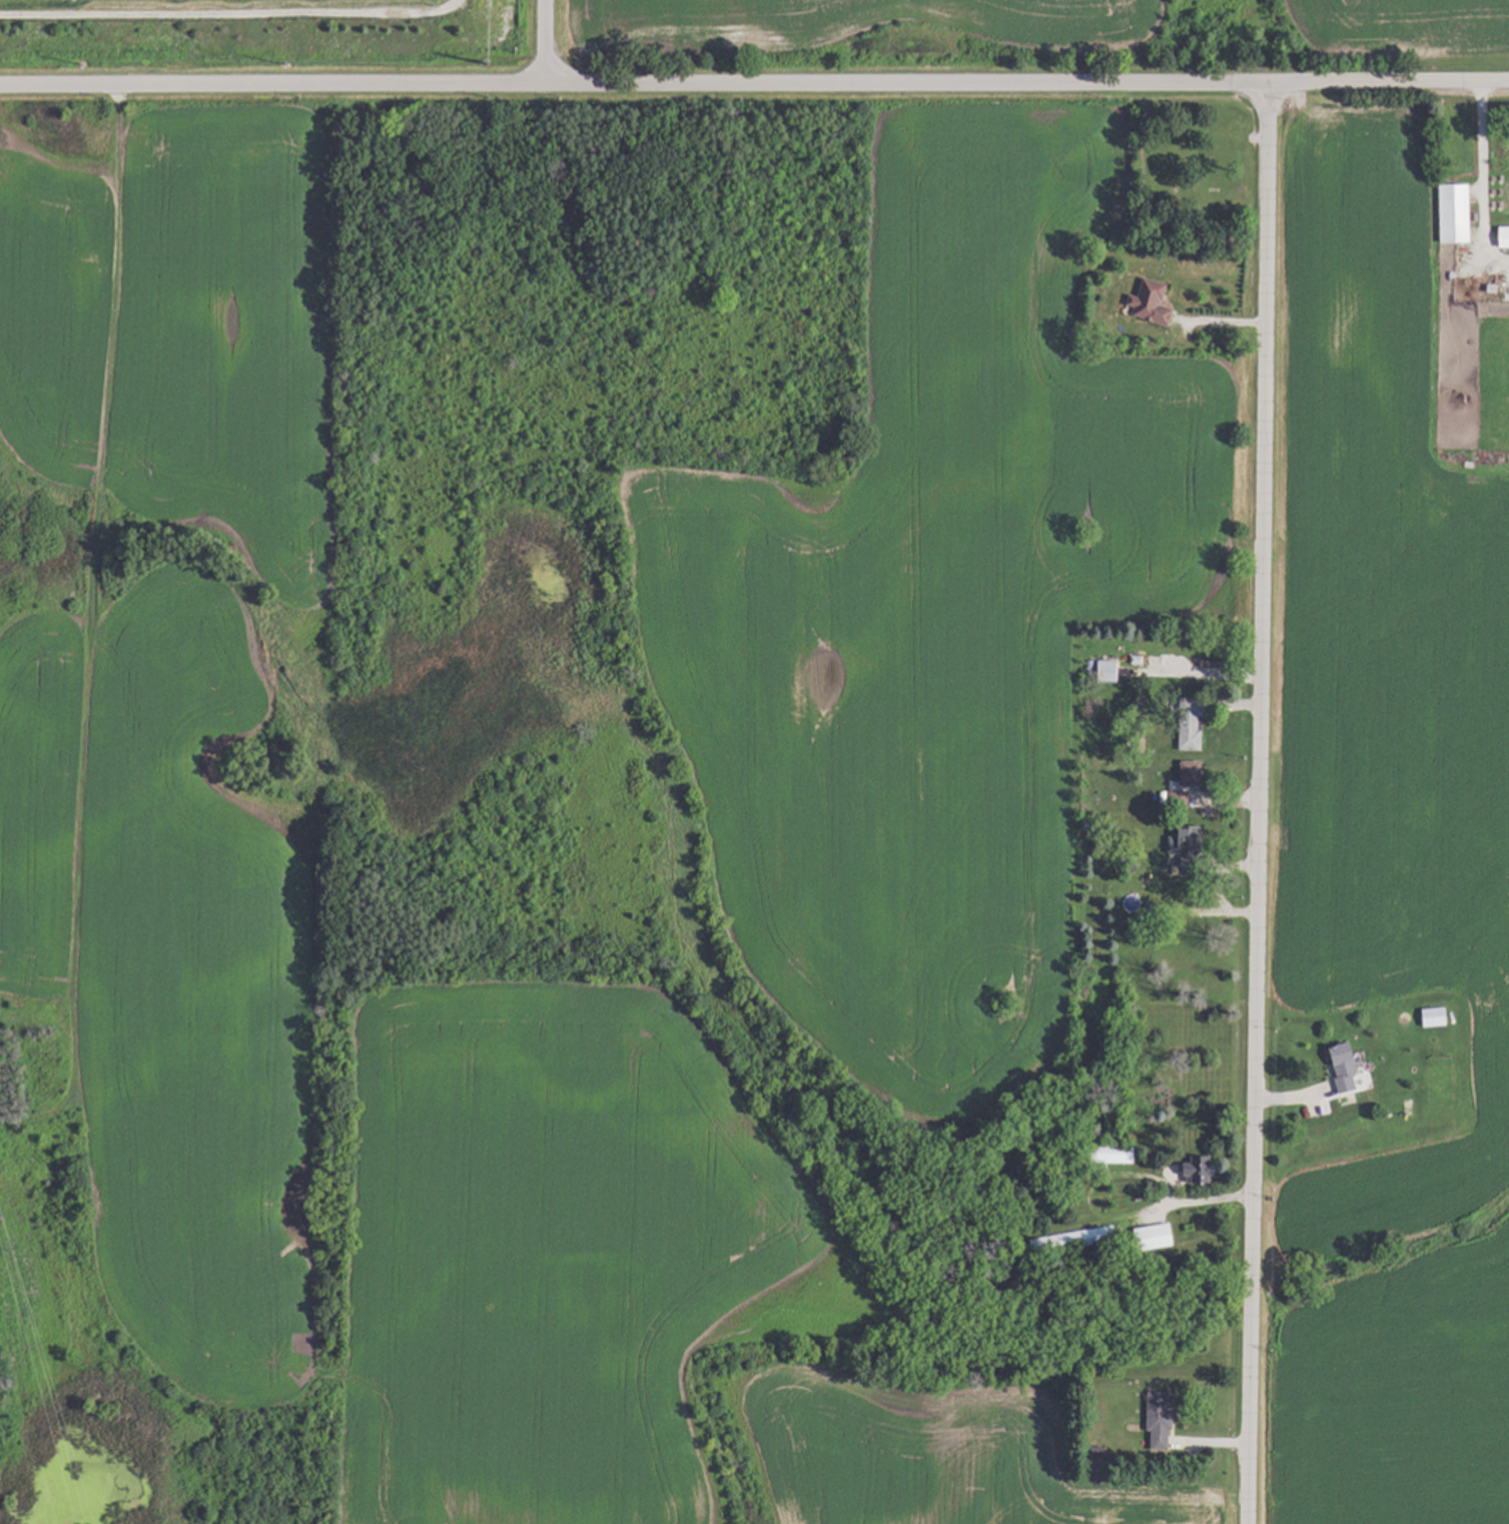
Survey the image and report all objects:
road: (550, 42)
road: (754, 84)
park: (1201, 161)
road: (1481, 179)
building: (1448, 213)
building: (1499, 236)
building: (1143, 302)
building: (1099, 671)
building: (1182, 729)
landfill: (547, 737)
building: (1183, 771)
building: (1170, 797)
road: (1257, 804)
building: (1175, 836)
crop: (1387, 850)
building: (1428, 1016)
building: (1337, 1065)
building: (1103, 1154)
building: (1188, 1169)
road: (1198, 1200)
building: (1146, 1235)
building: (1069, 1239)
building: (1152, 1419)

